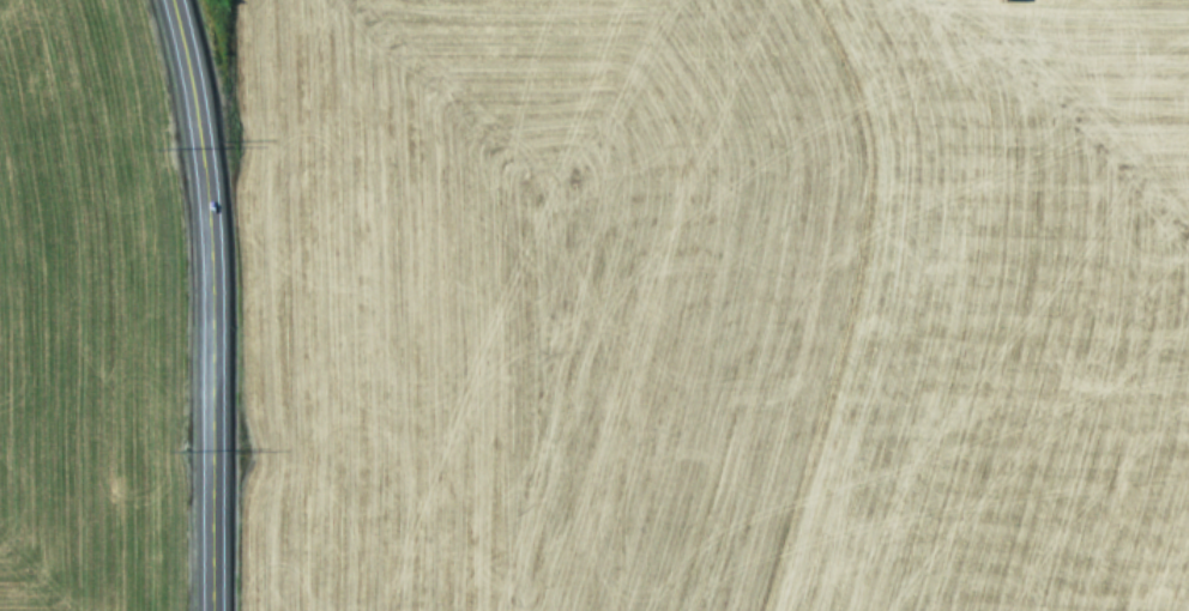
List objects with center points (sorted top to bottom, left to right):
road: (204, 303)
crop: (712, 305)
crop: (79, 315)

